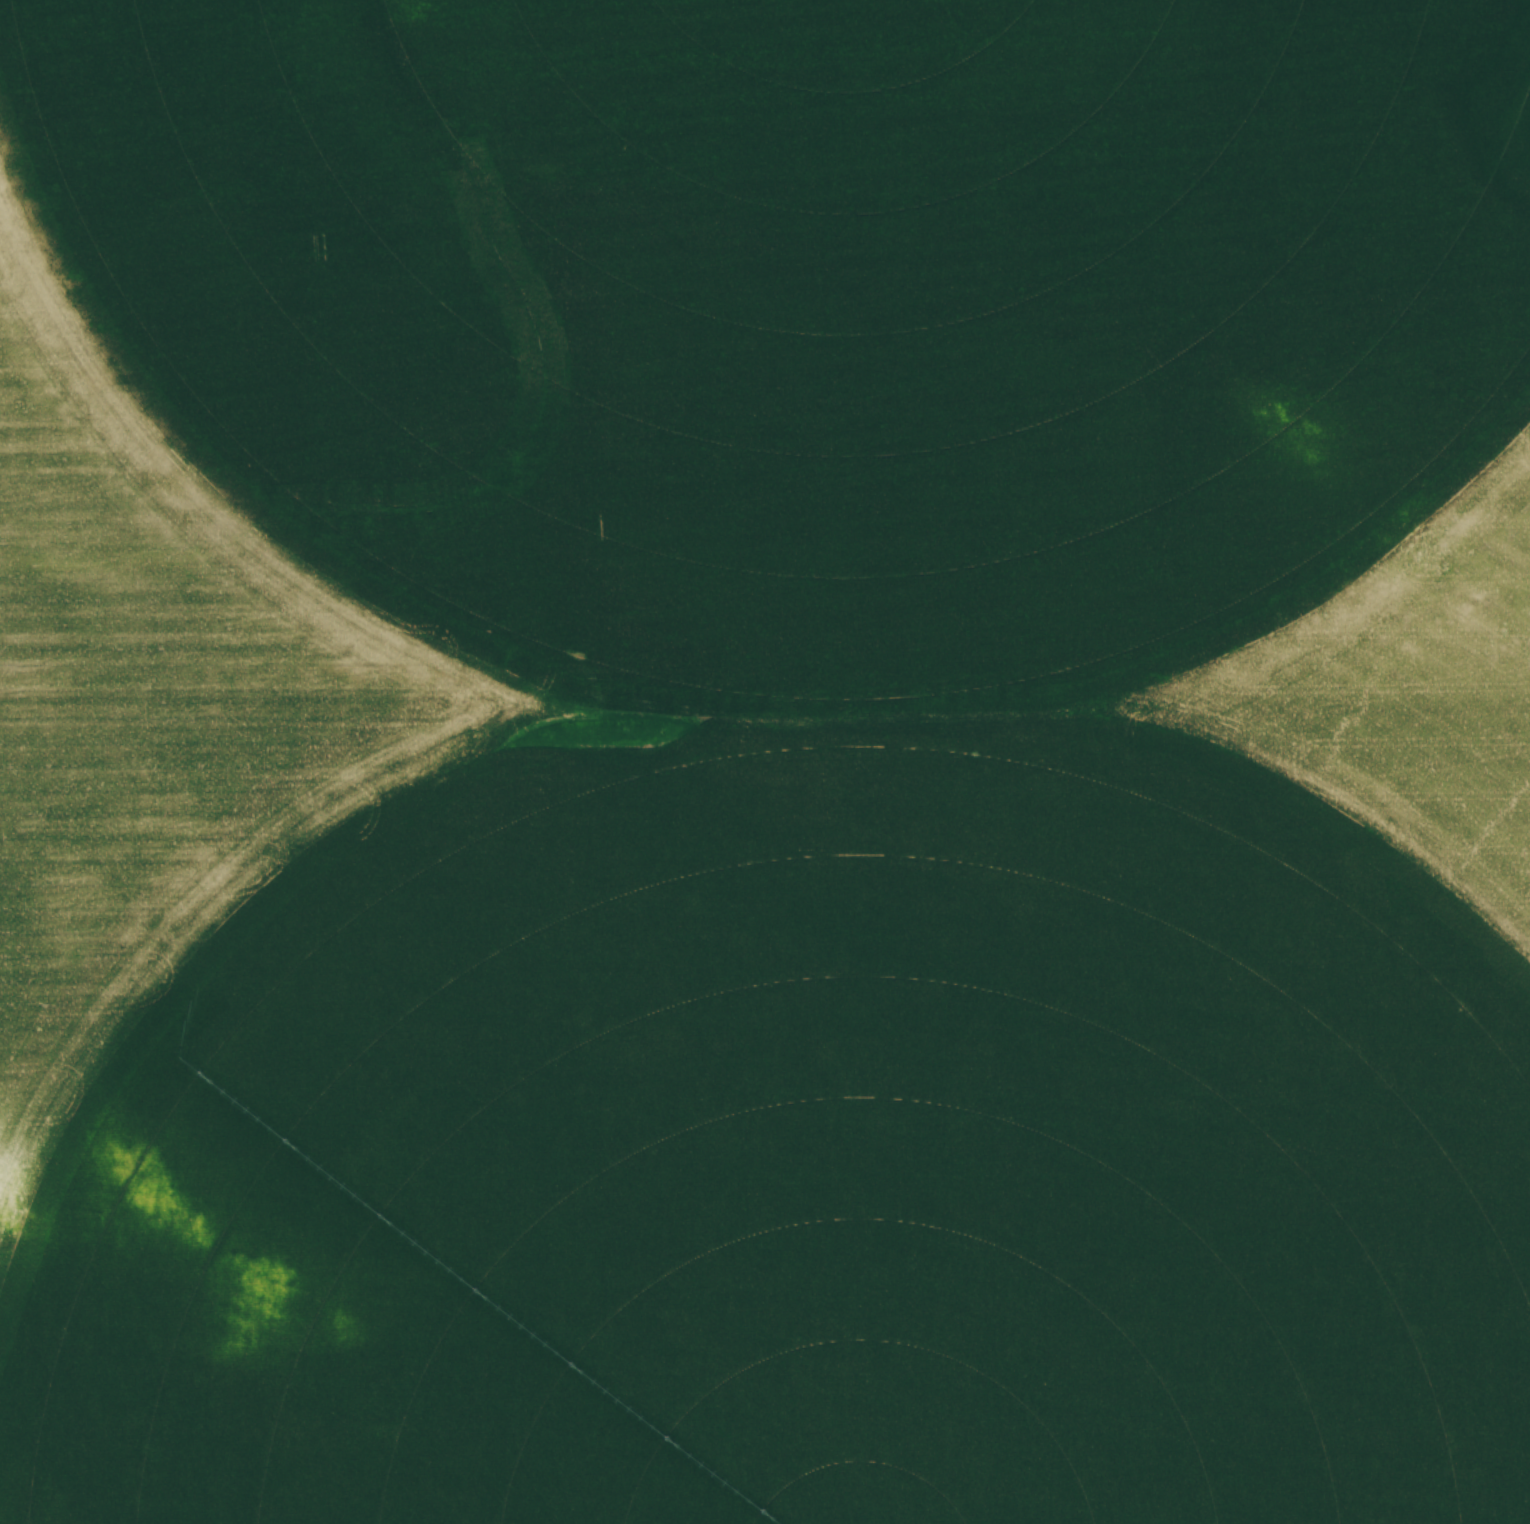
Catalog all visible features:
crop: (765, 762)

